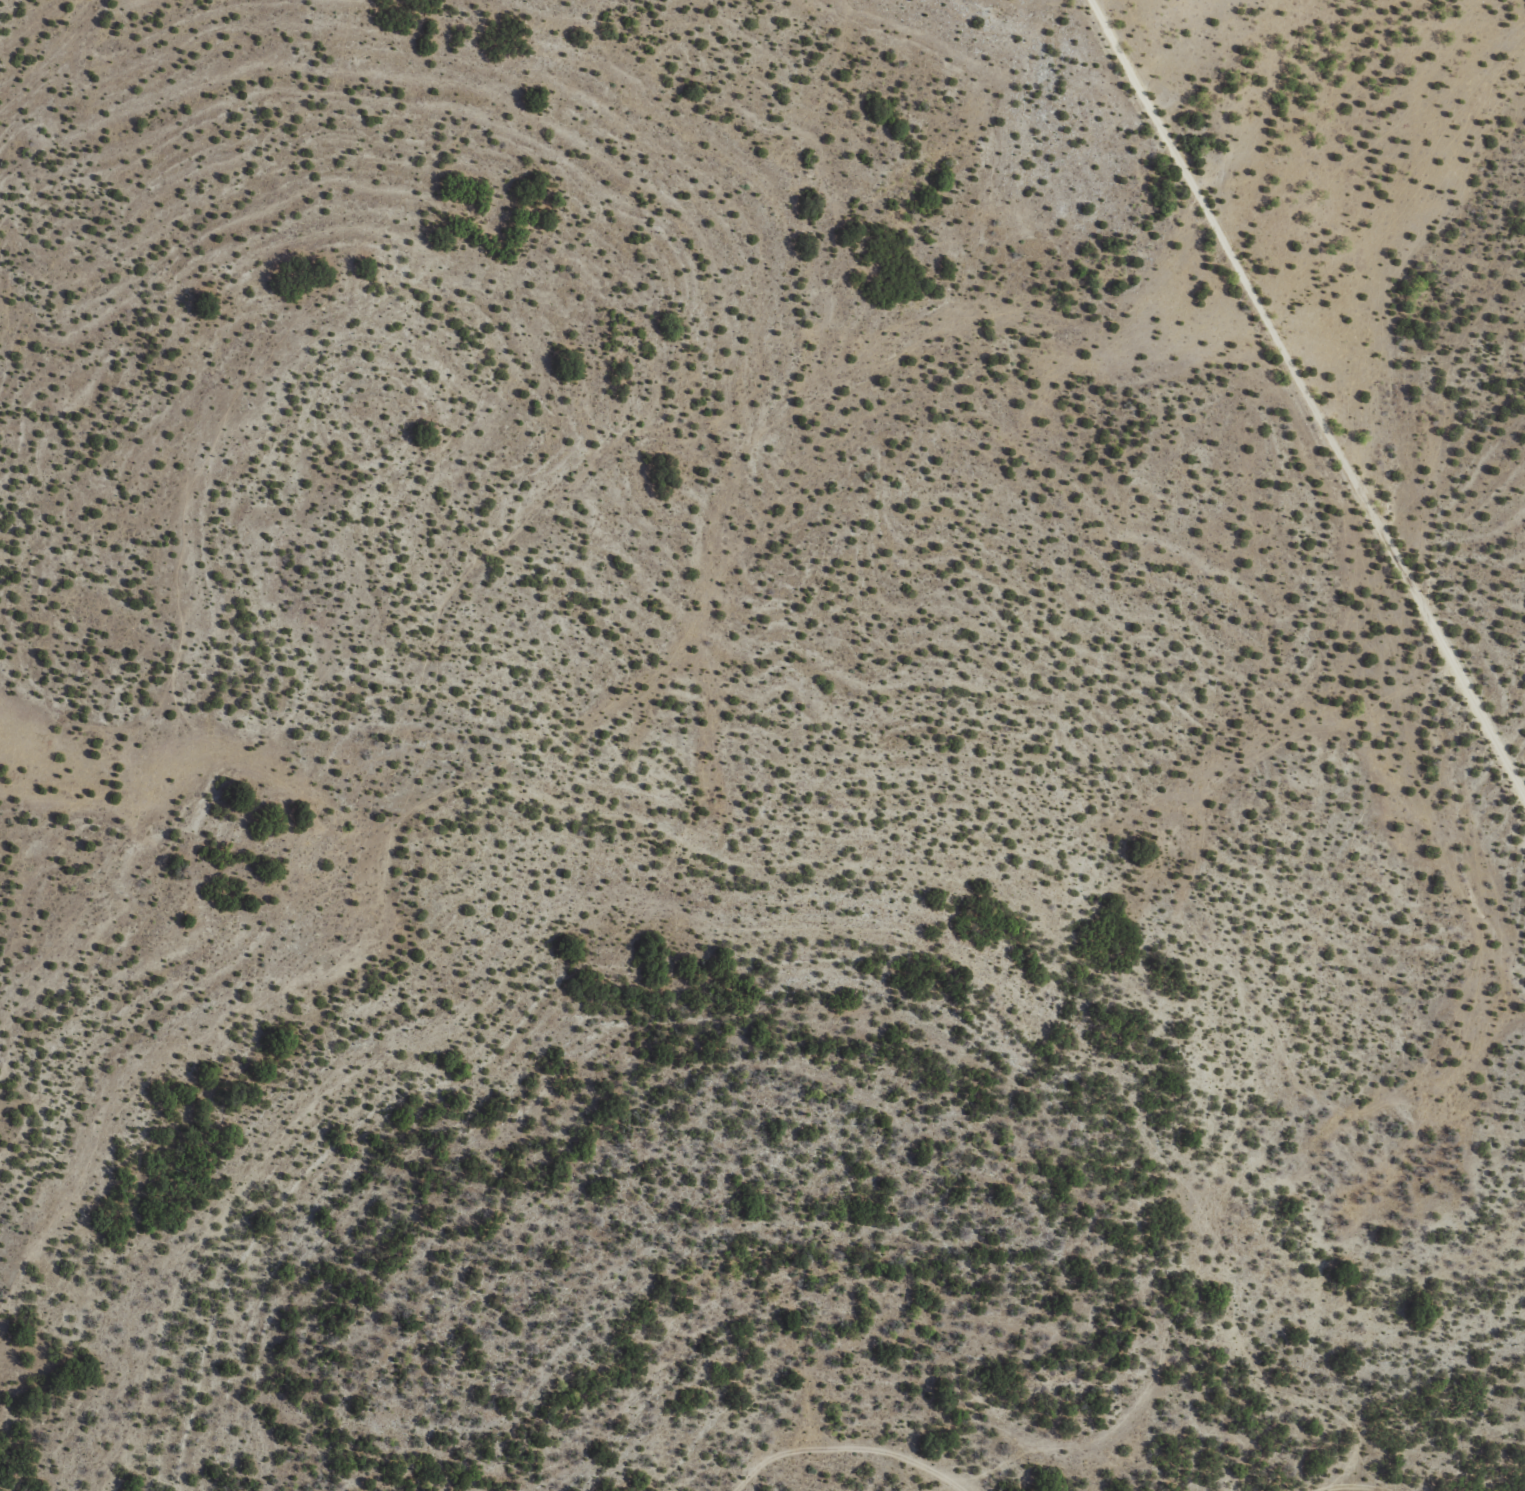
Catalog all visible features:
road: (1311, 417)

